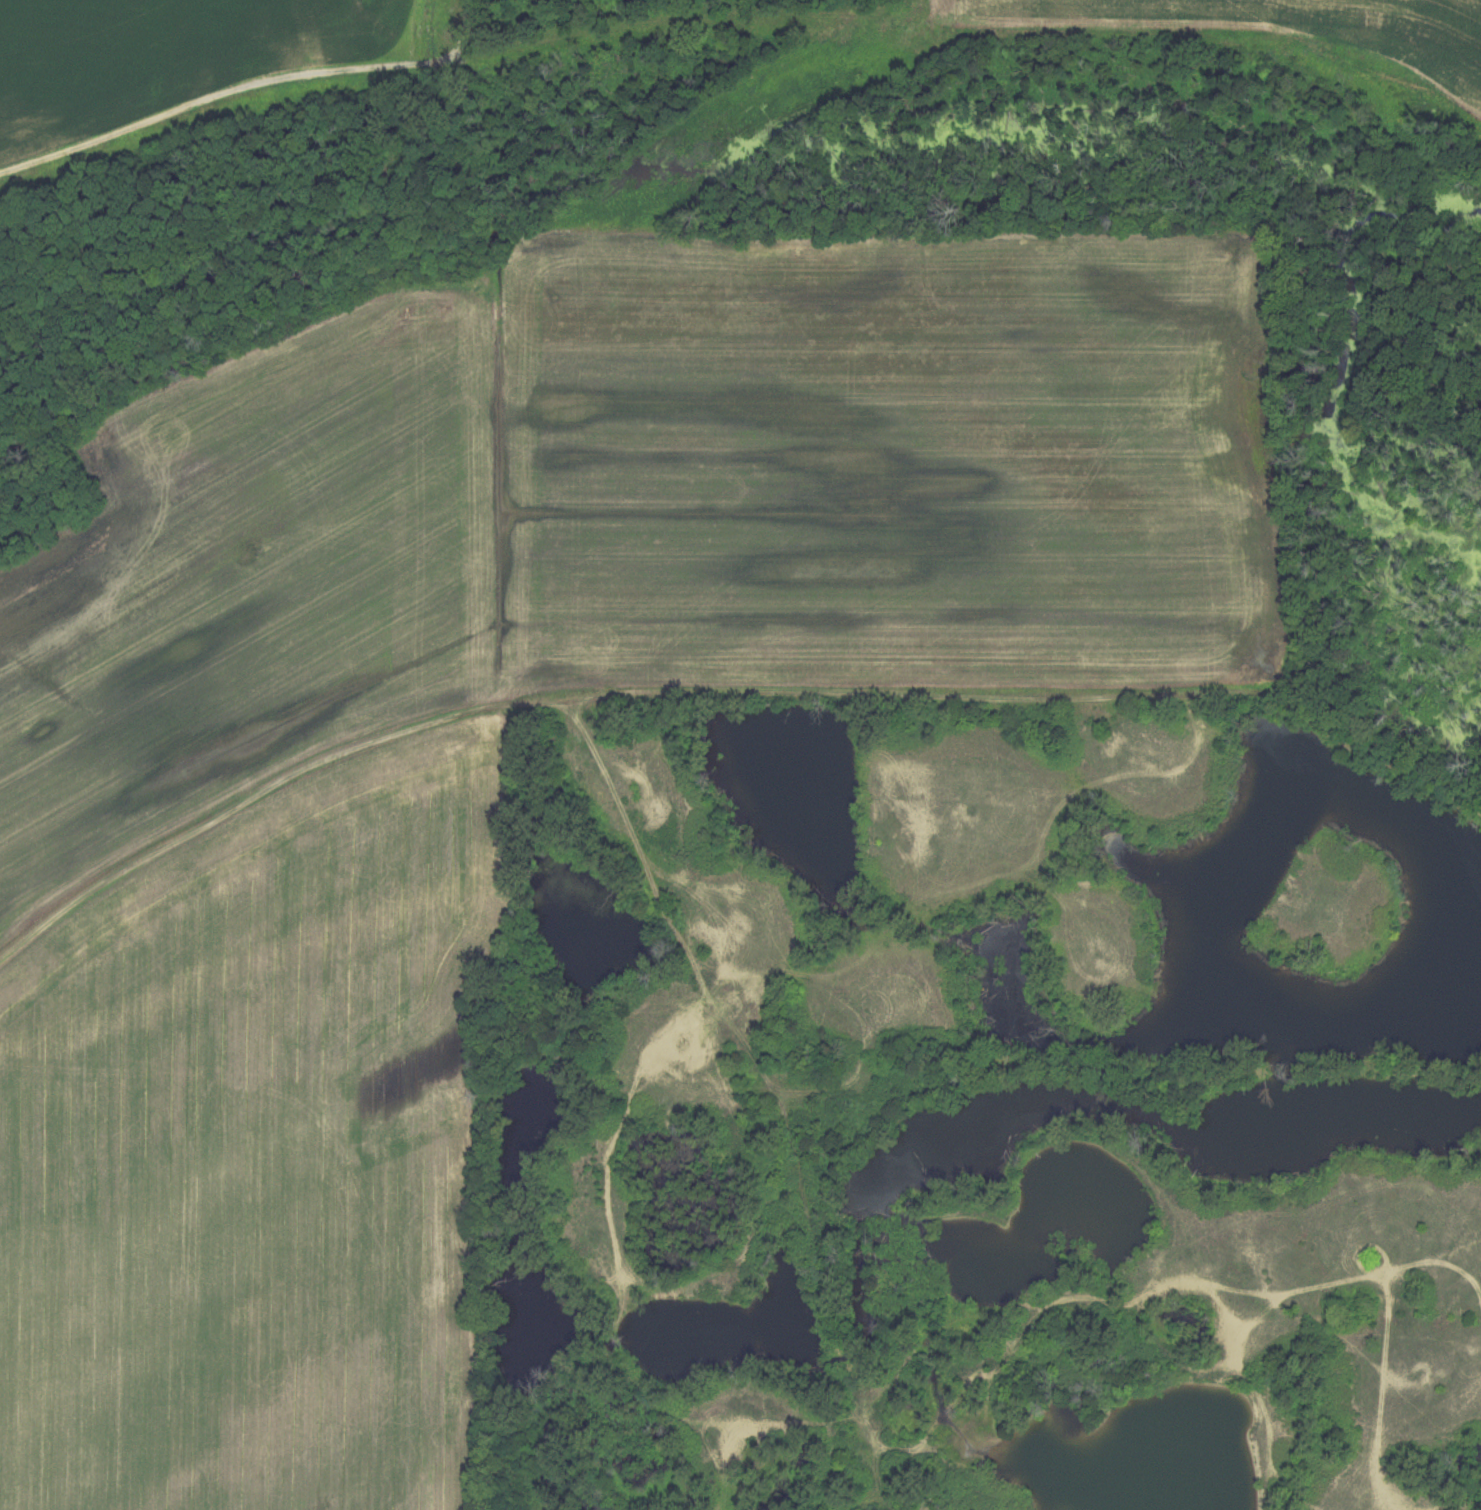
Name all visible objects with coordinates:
road: (258, 86)
road: (625, 814)
road: (1144, 1291)
road: (618, 1299)
road: (1383, 1394)
road: (1260, 1401)
road: (925, 1438)
road: (725, 1470)
road: (1466, 1506)

